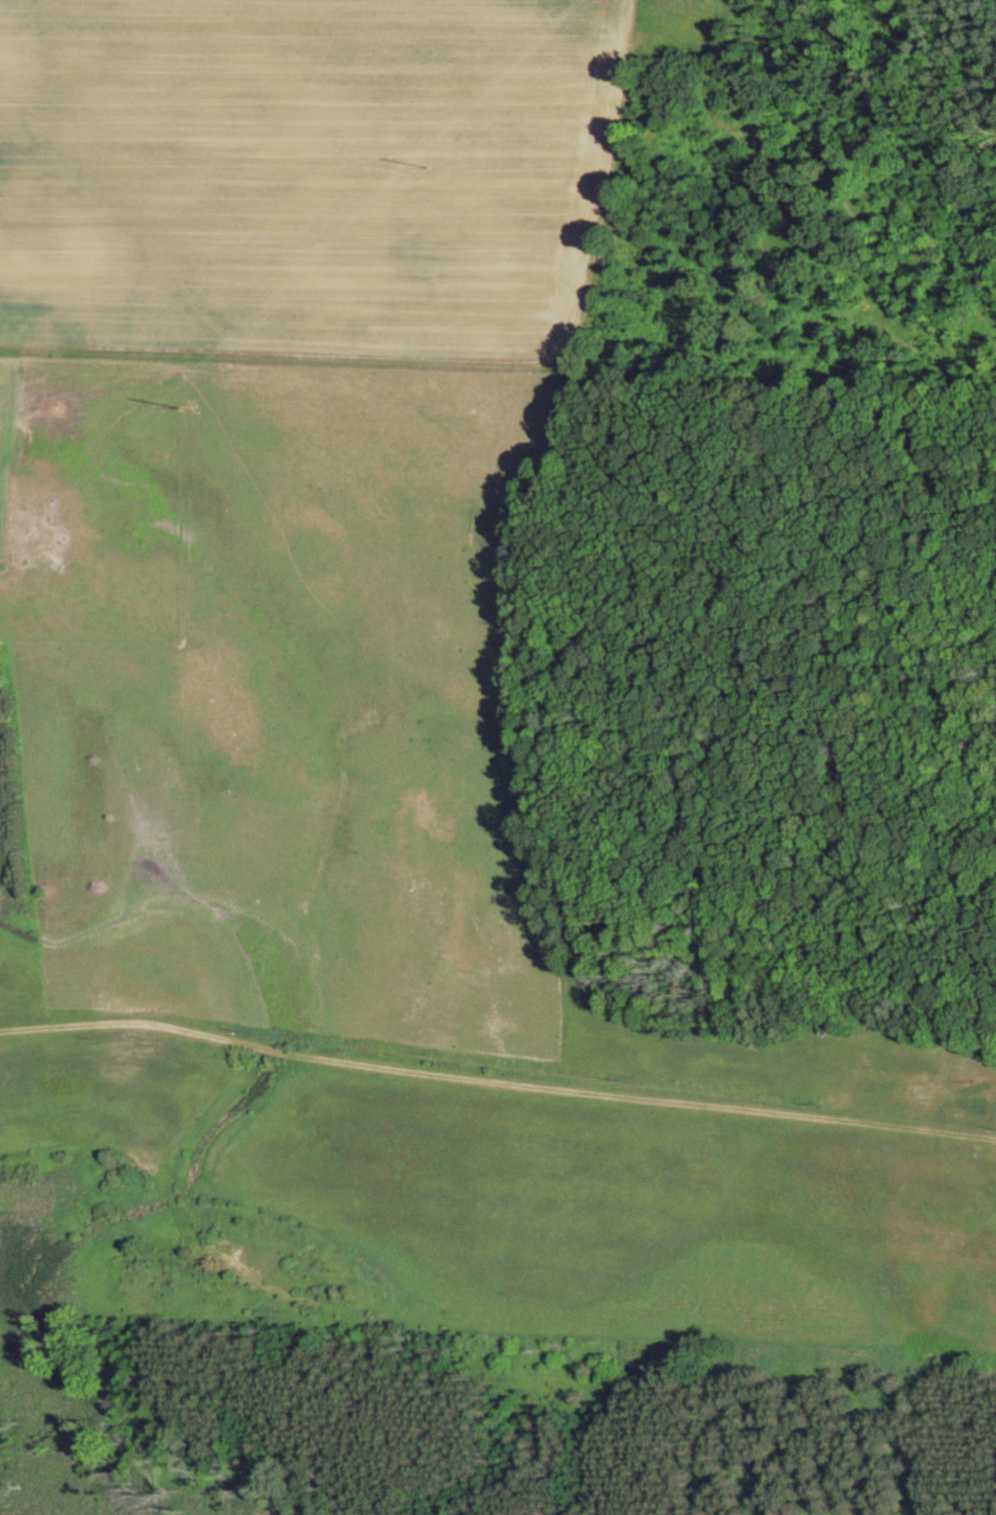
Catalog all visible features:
road: (68, 1426)

